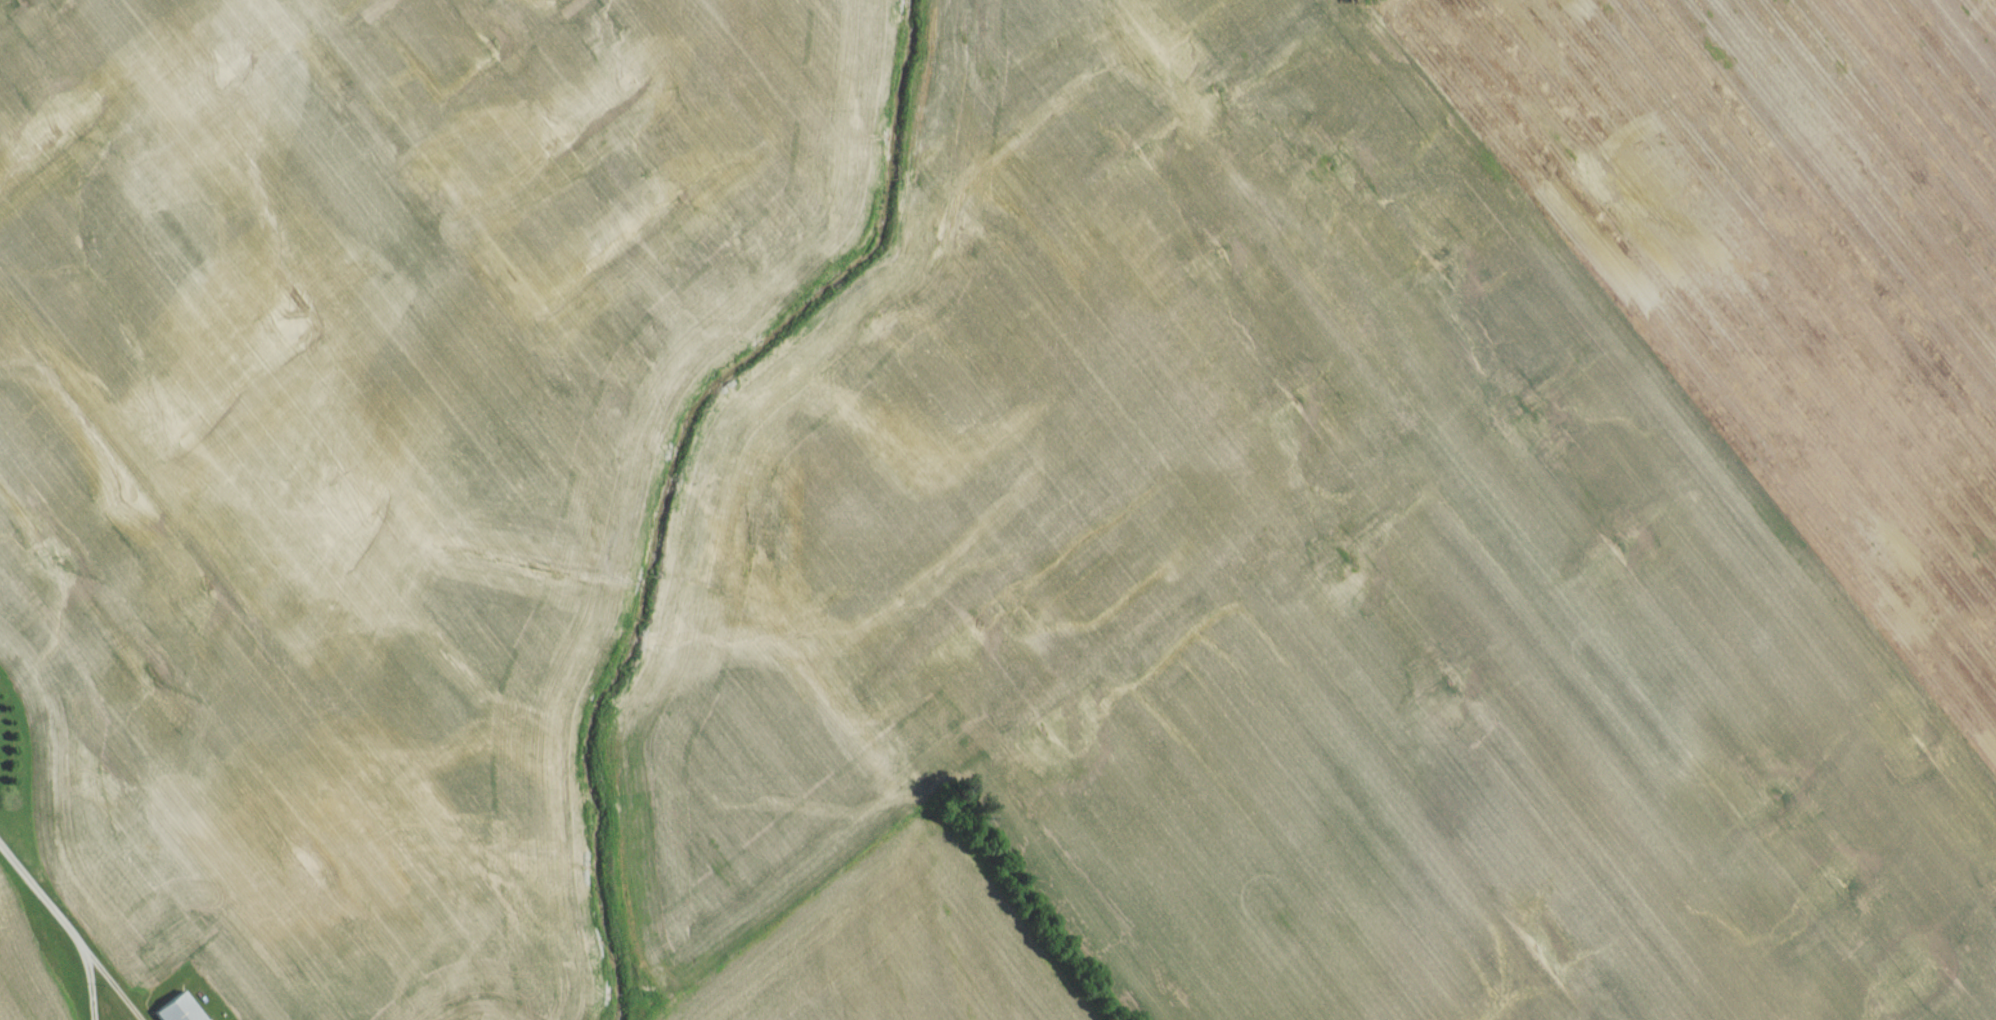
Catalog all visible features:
road: (77, 926)
building: (177, 1011)

